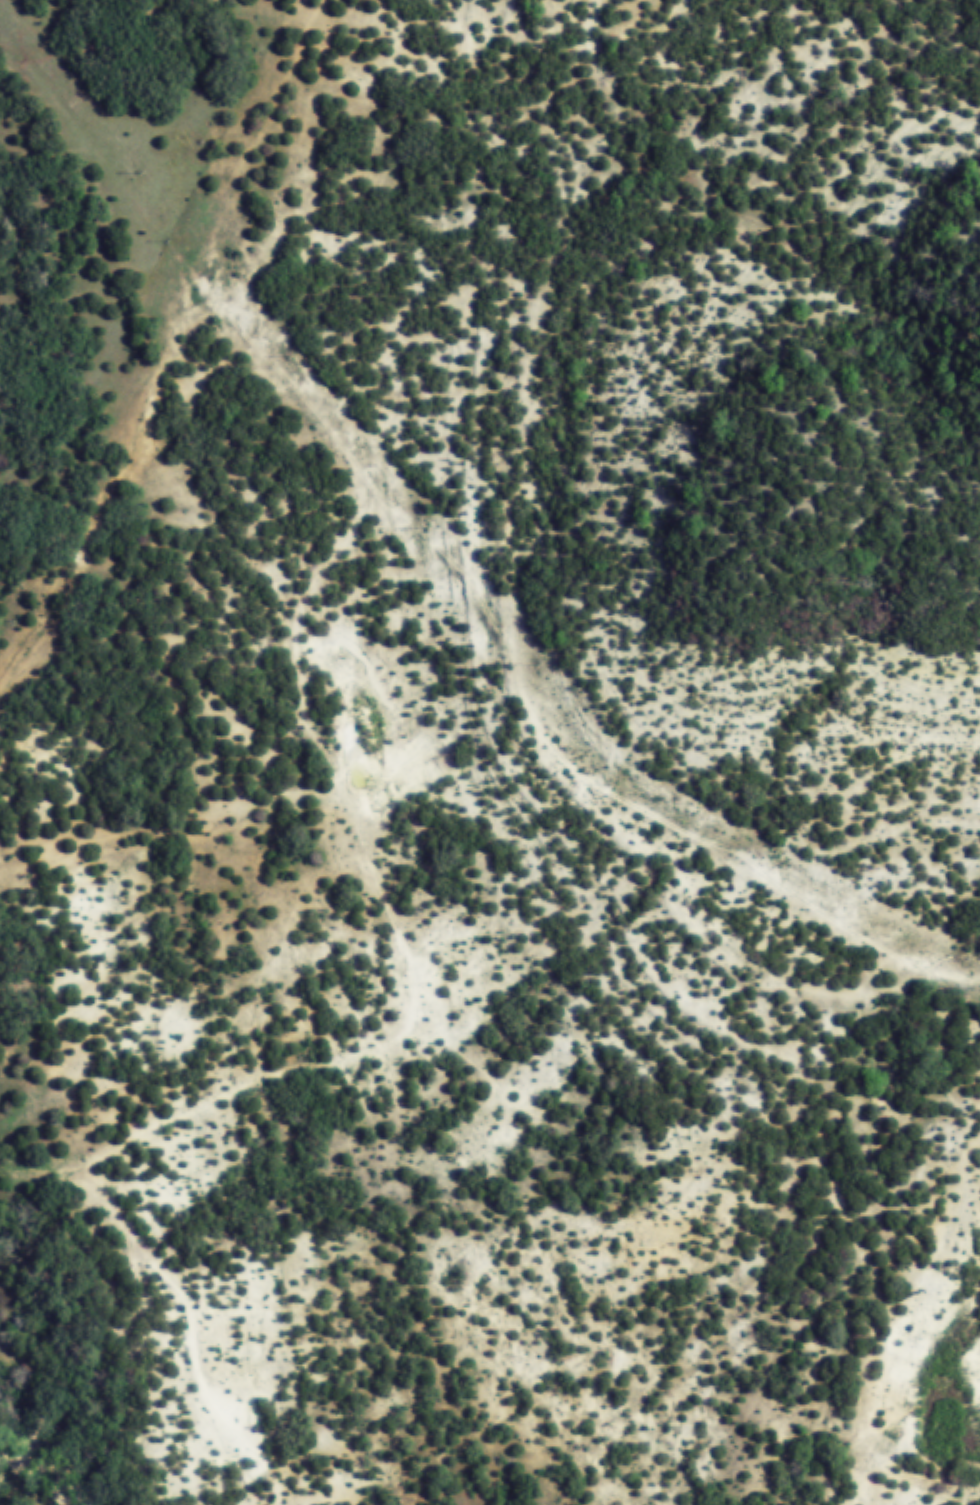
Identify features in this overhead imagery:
road: (178, 1300)
river: (46, 1461)

